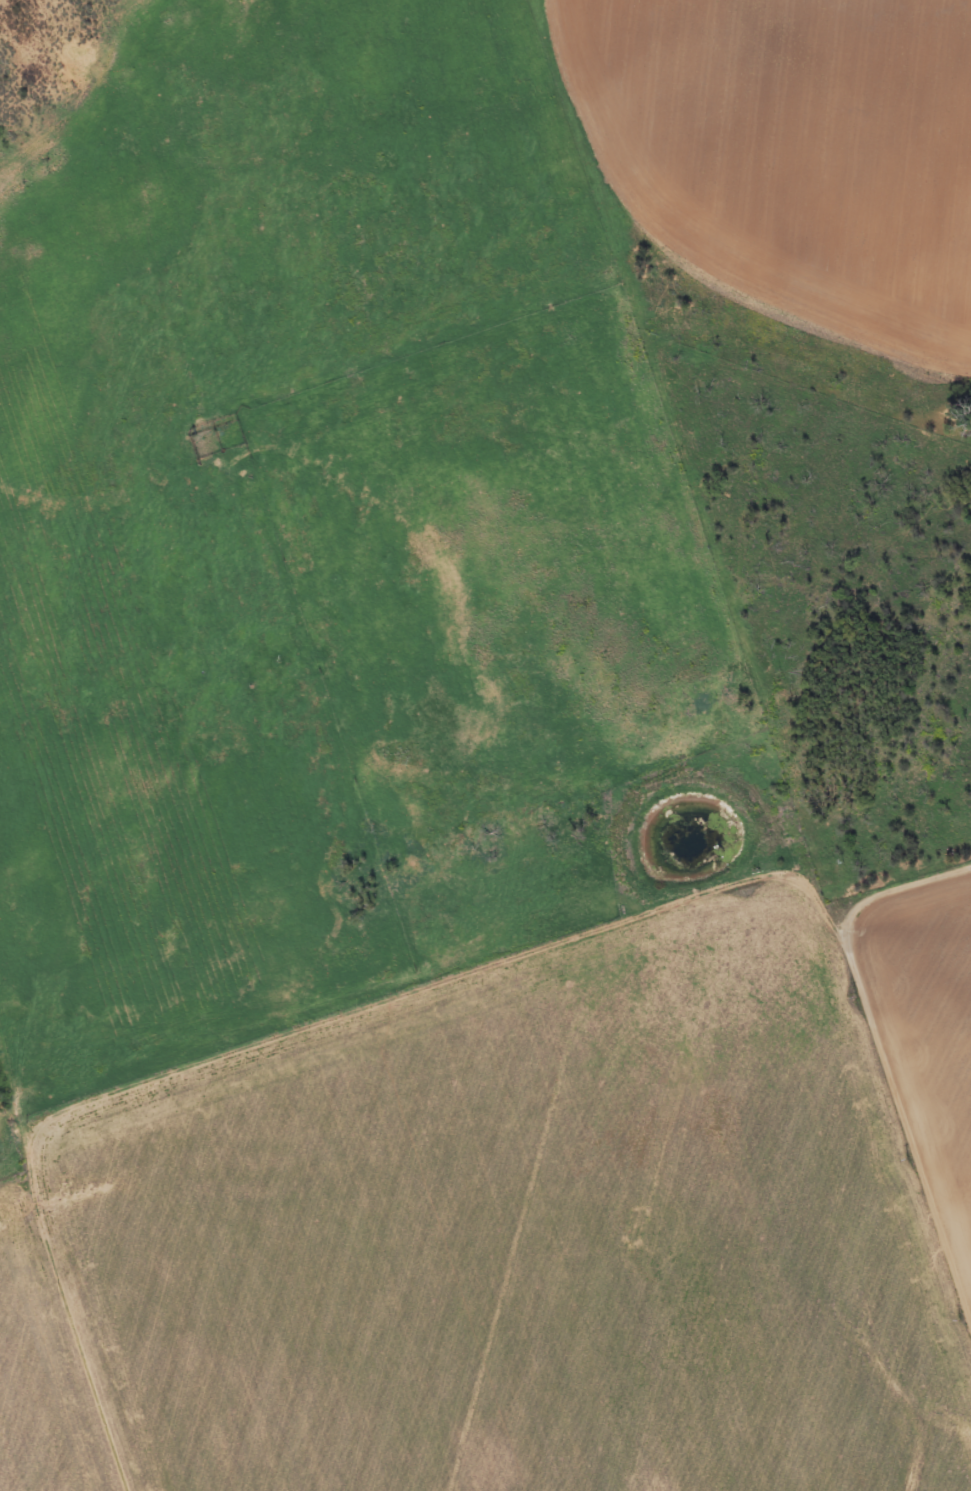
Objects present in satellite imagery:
road: (247, 1065)

